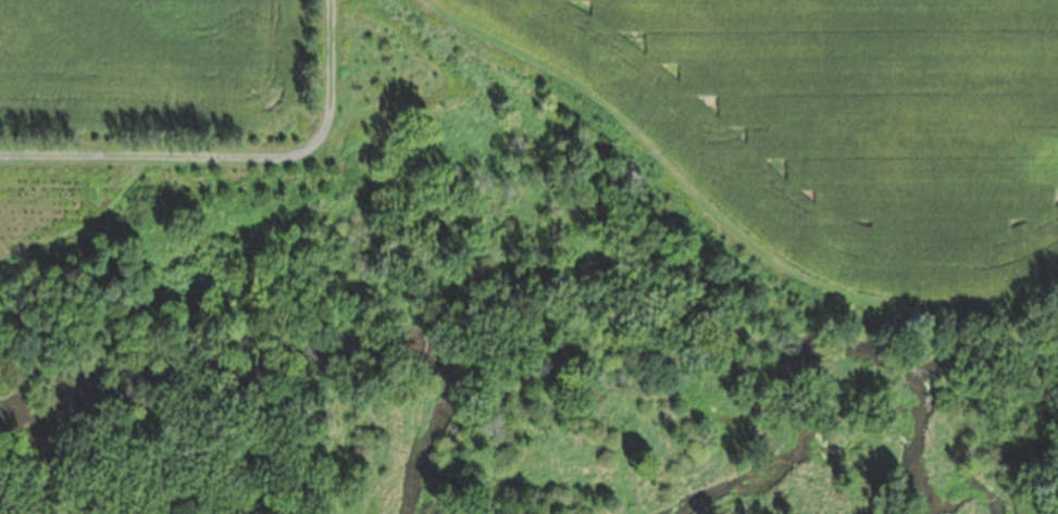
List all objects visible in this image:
road: (165, 155)

